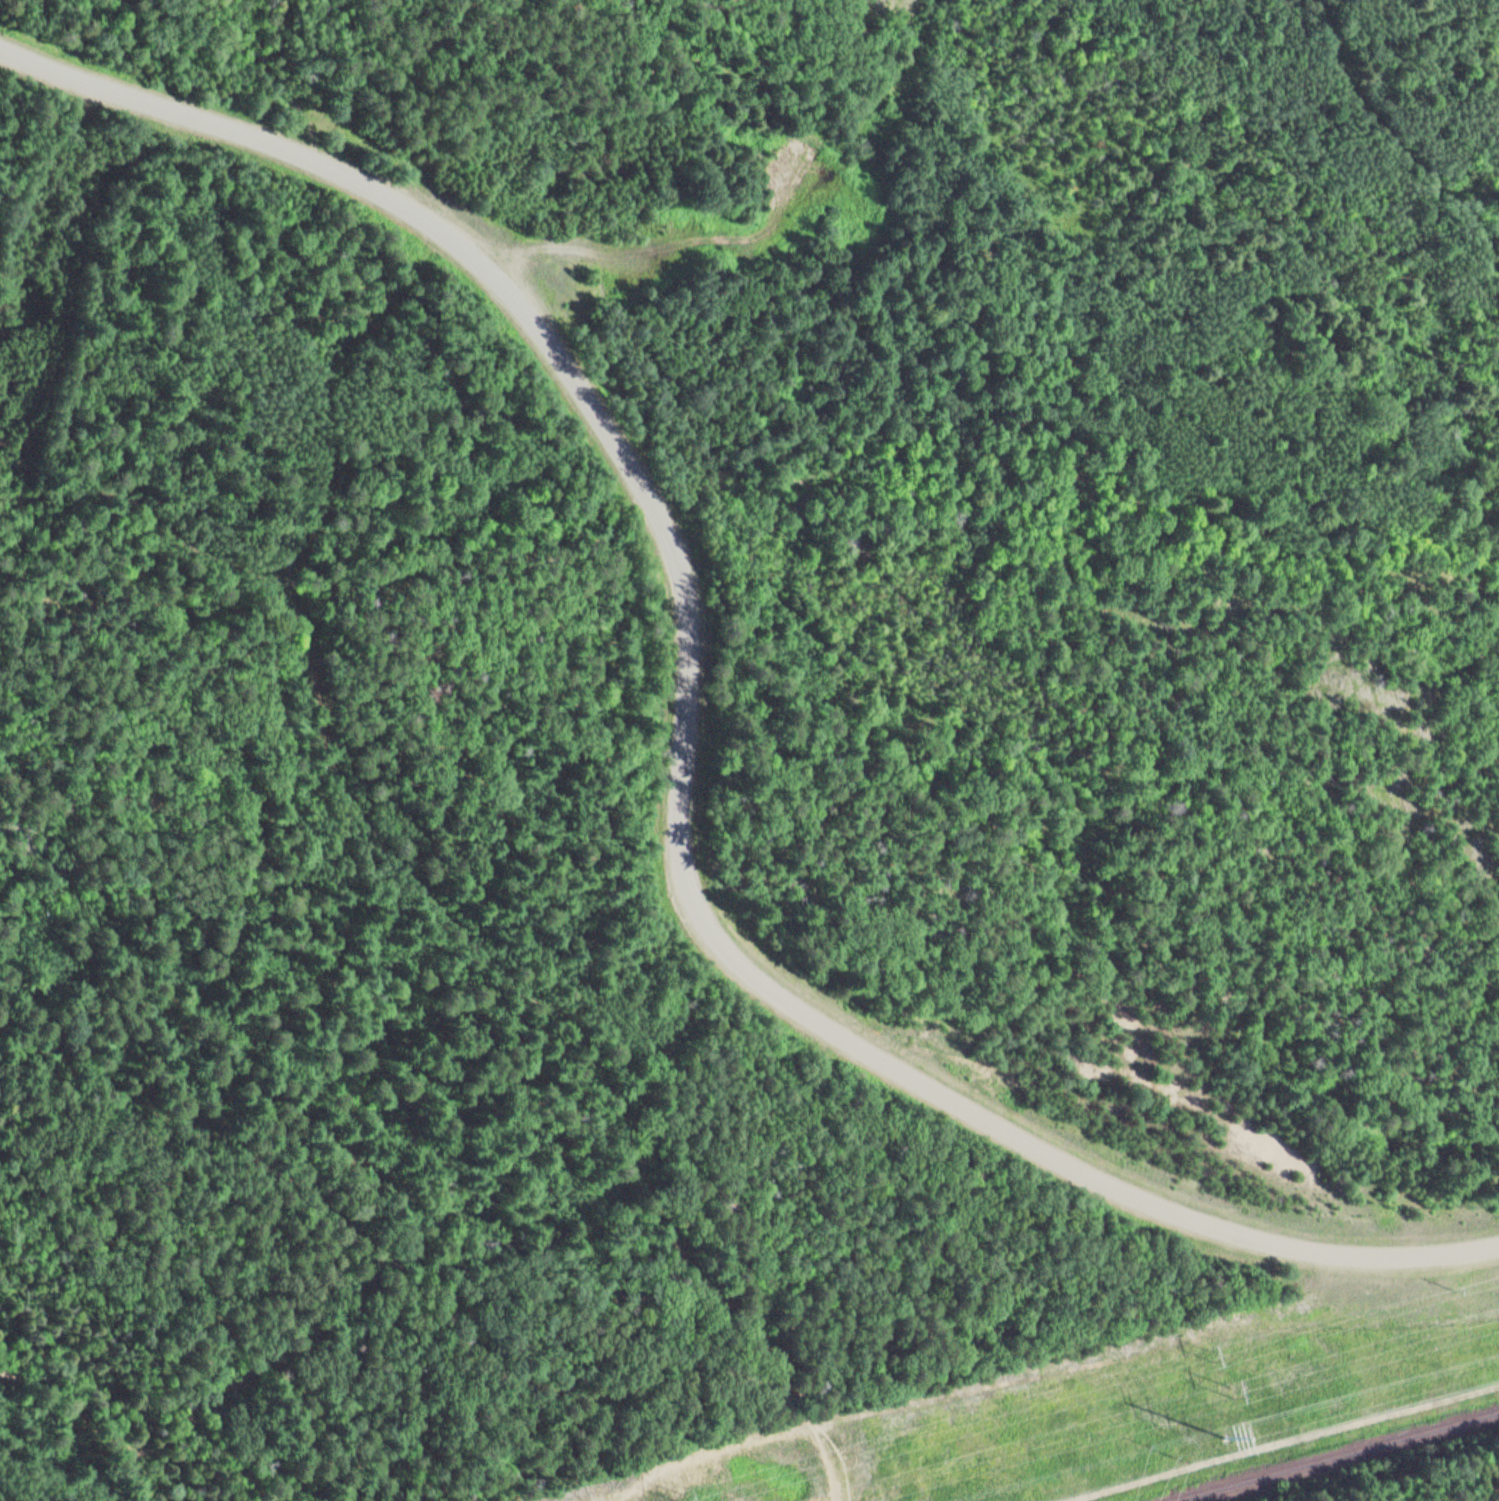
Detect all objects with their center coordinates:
road: (687, 743)
road: (203, 1172)
power tower: (1457, 1290)
power tower: (1220, 1352)
road: (628, 1371)
power tower: (1236, 1390)
road: (199, 1401)
power tower: (1229, 1437)
railway: (1335, 1457)
road: (1465, 1491)
power tower: (688, 1497)

